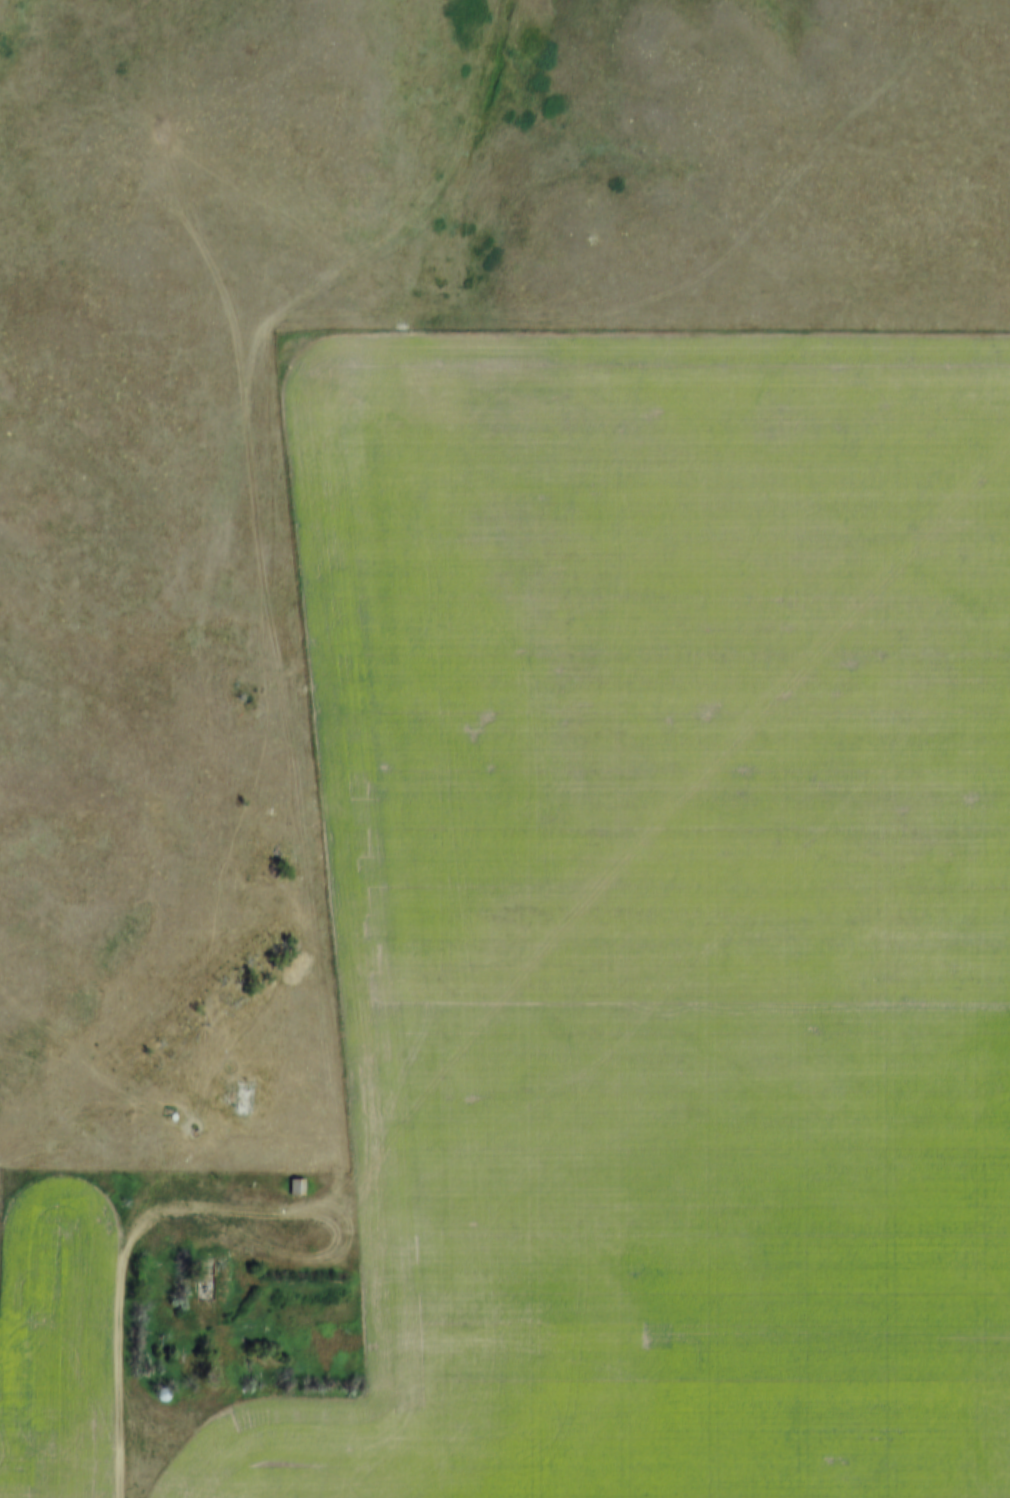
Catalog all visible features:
building: (251, 1089)
building: (305, 1181)
road: (122, 1326)

